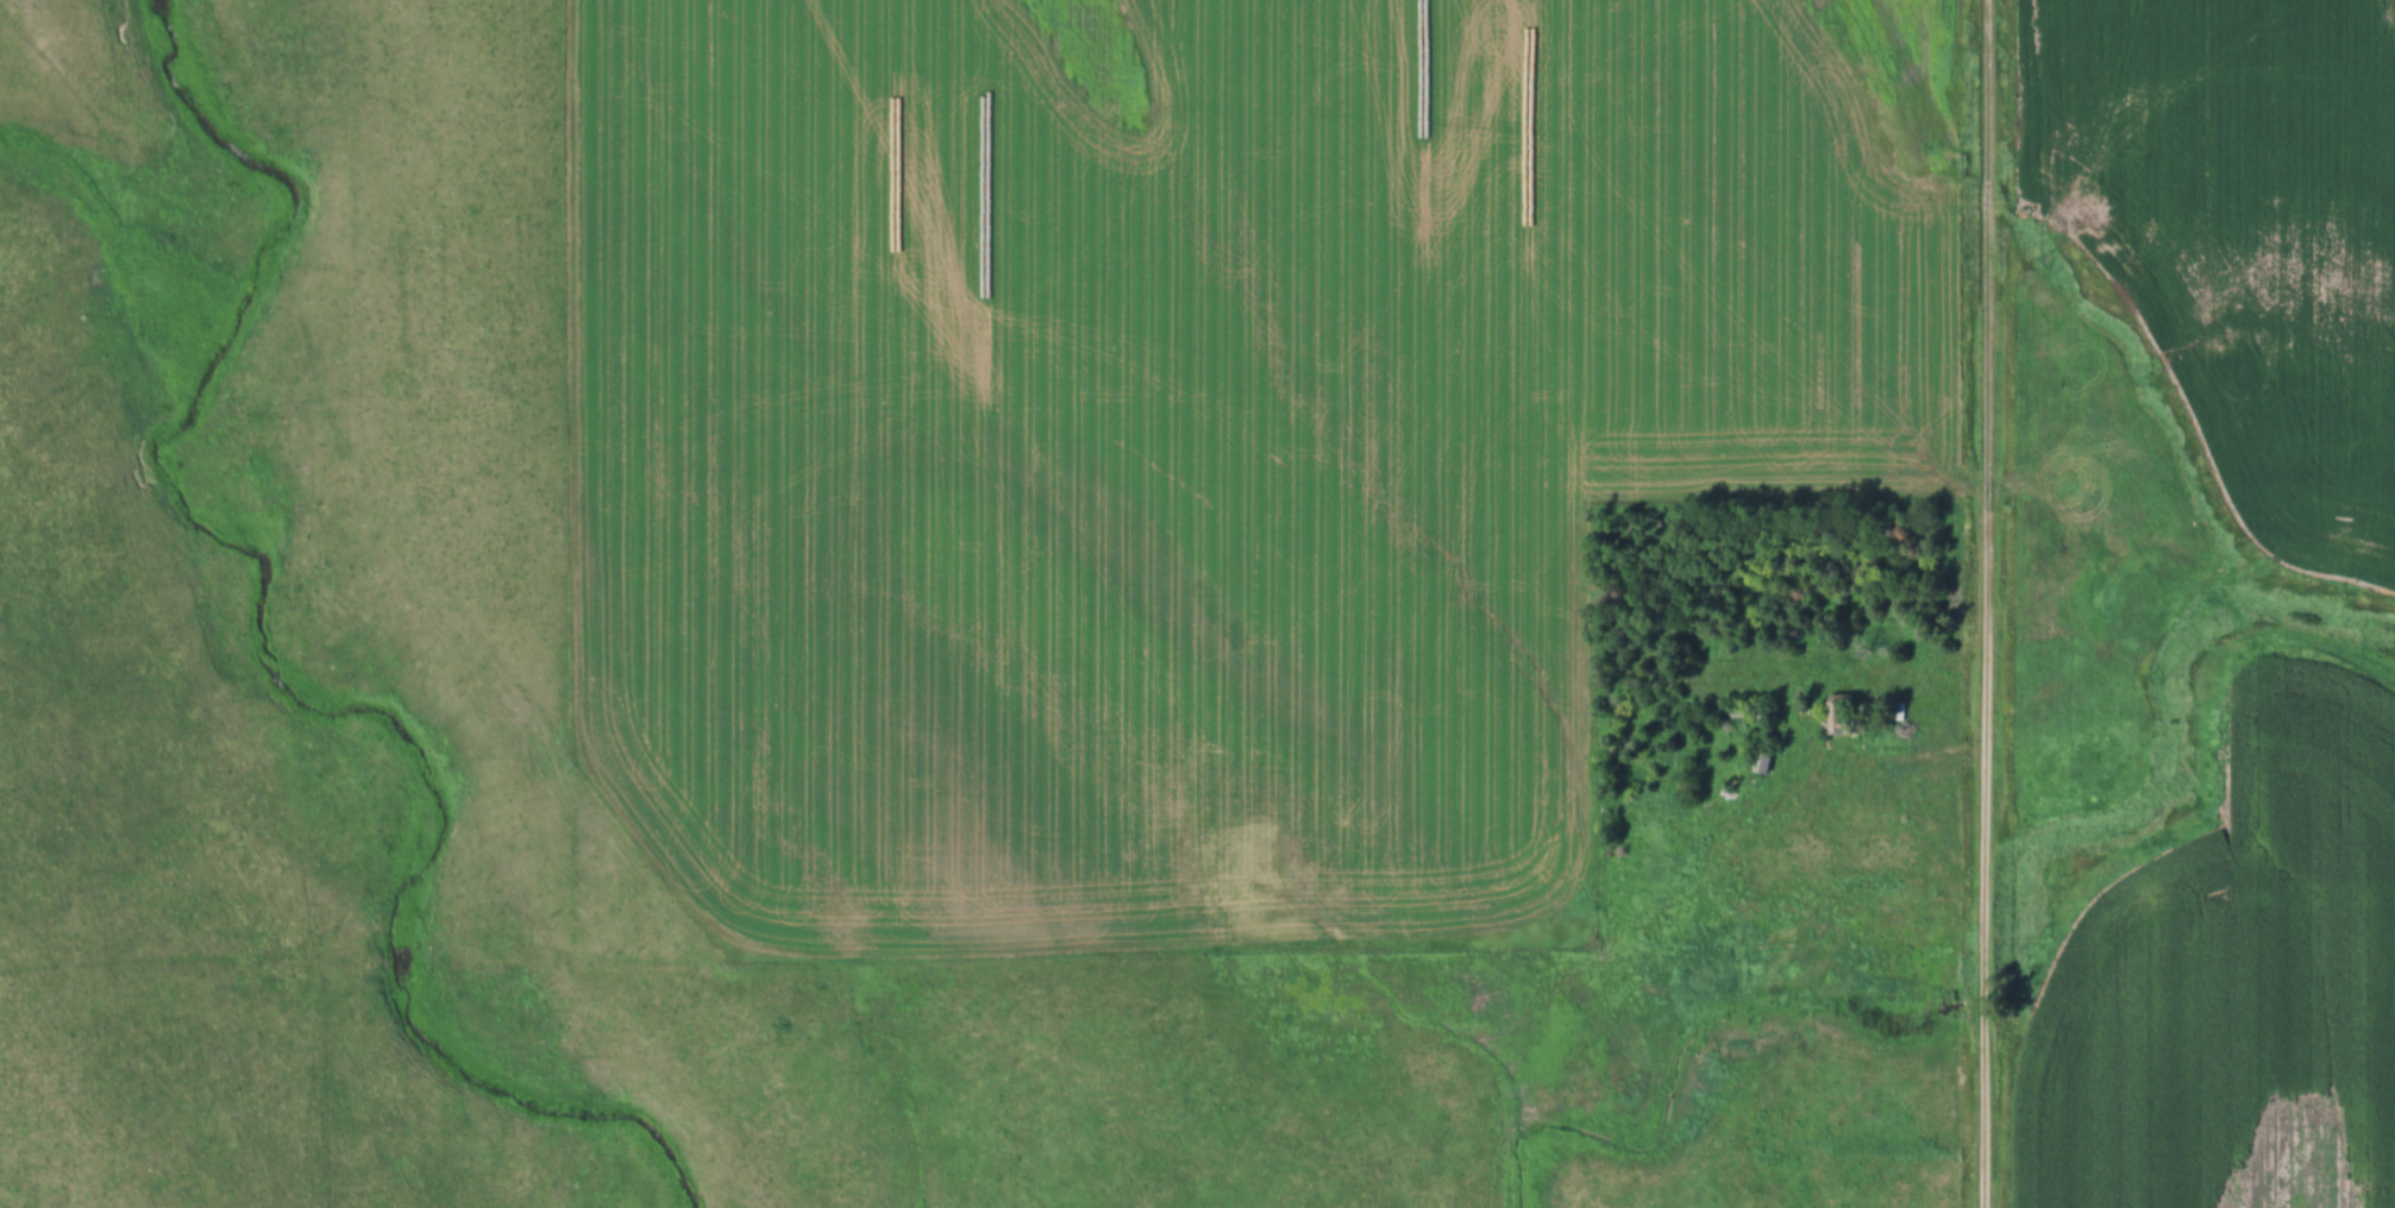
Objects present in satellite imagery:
road: (1985, 604)
building: (1836, 715)

